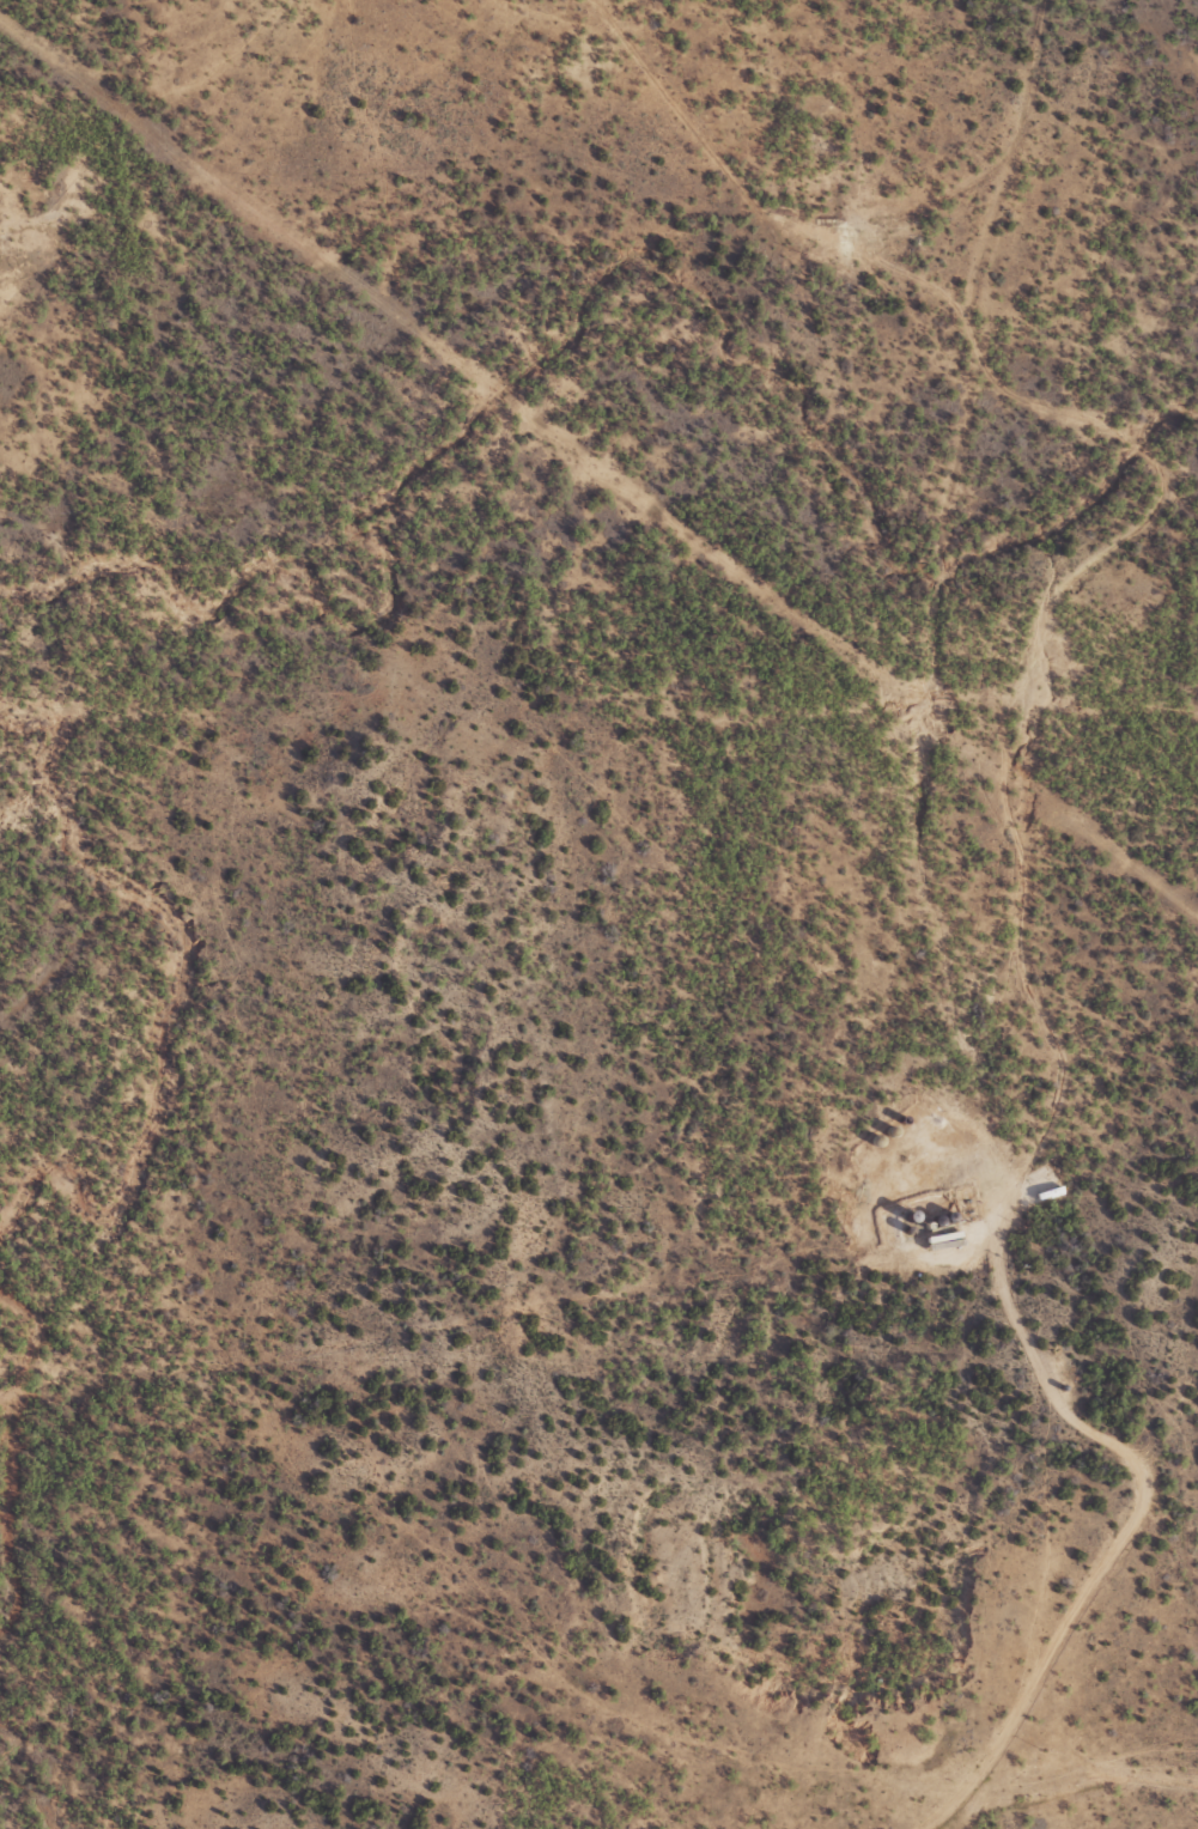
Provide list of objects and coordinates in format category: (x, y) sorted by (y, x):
road: (1015, 887)
road: (1090, 1784)

